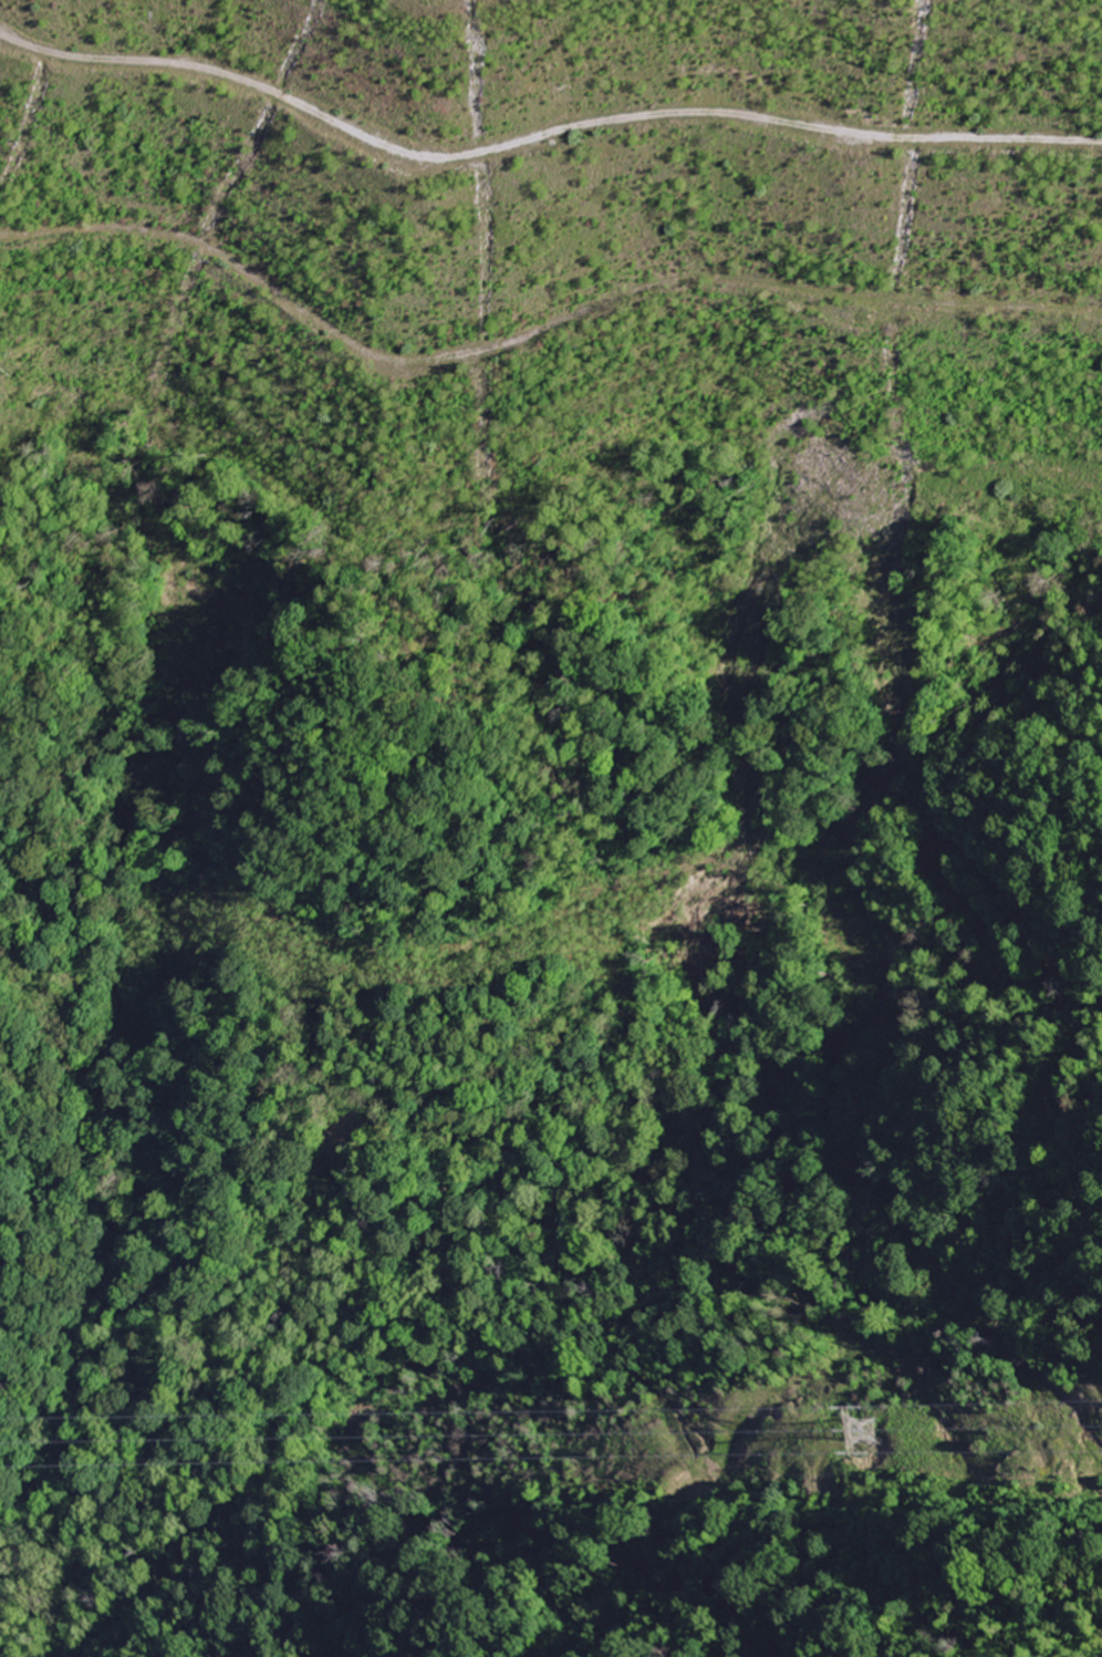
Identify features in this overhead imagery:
power tower: (845, 1429)

